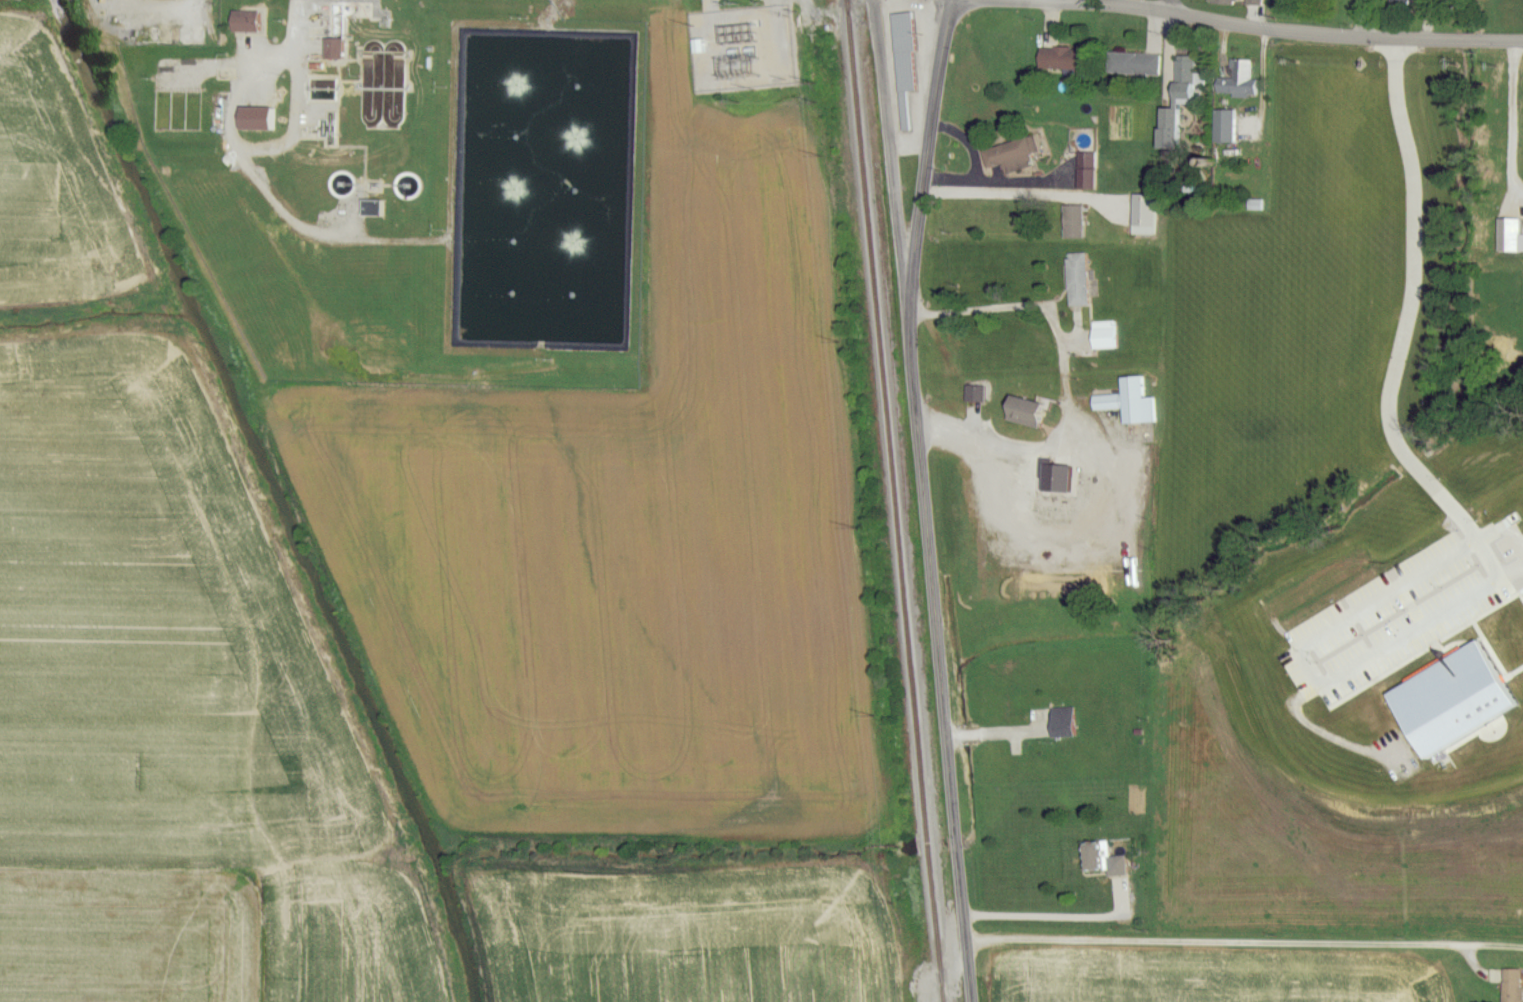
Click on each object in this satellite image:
road: (1060, 0)
road: (1062, 0)
building: (1241, 3)
road: (1173, 5)
road: (1366, 18)
building: (253, 23)
road: (1314, 32)
power substation: (743, 47)
building: (1068, 60)
building: (908, 65)
building: (1138, 65)
building: (1242, 80)
building: (1190, 82)
road: (1513, 117)
building: (1228, 128)
road: (933, 133)
building: (1016, 156)
building: (1090, 173)
road: (999, 196)
building: (377, 209)
building: (1148, 216)
building: (1078, 224)
road: (1415, 249)
building: (1082, 282)
building: (1108, 336)
road: (1064, 381)
building: (1013, 388)
building: (978, 395)
building: (1133, 403)
road: (1409, 462)
building: (1060, 489)
road: (927, 499)
railway: (895, 501)
road: (1367, 661)
building: (1067, 723)
building: (1109, 860)
road: (1059, 917)
road: (1242, 943)
building: (1513, 986)

